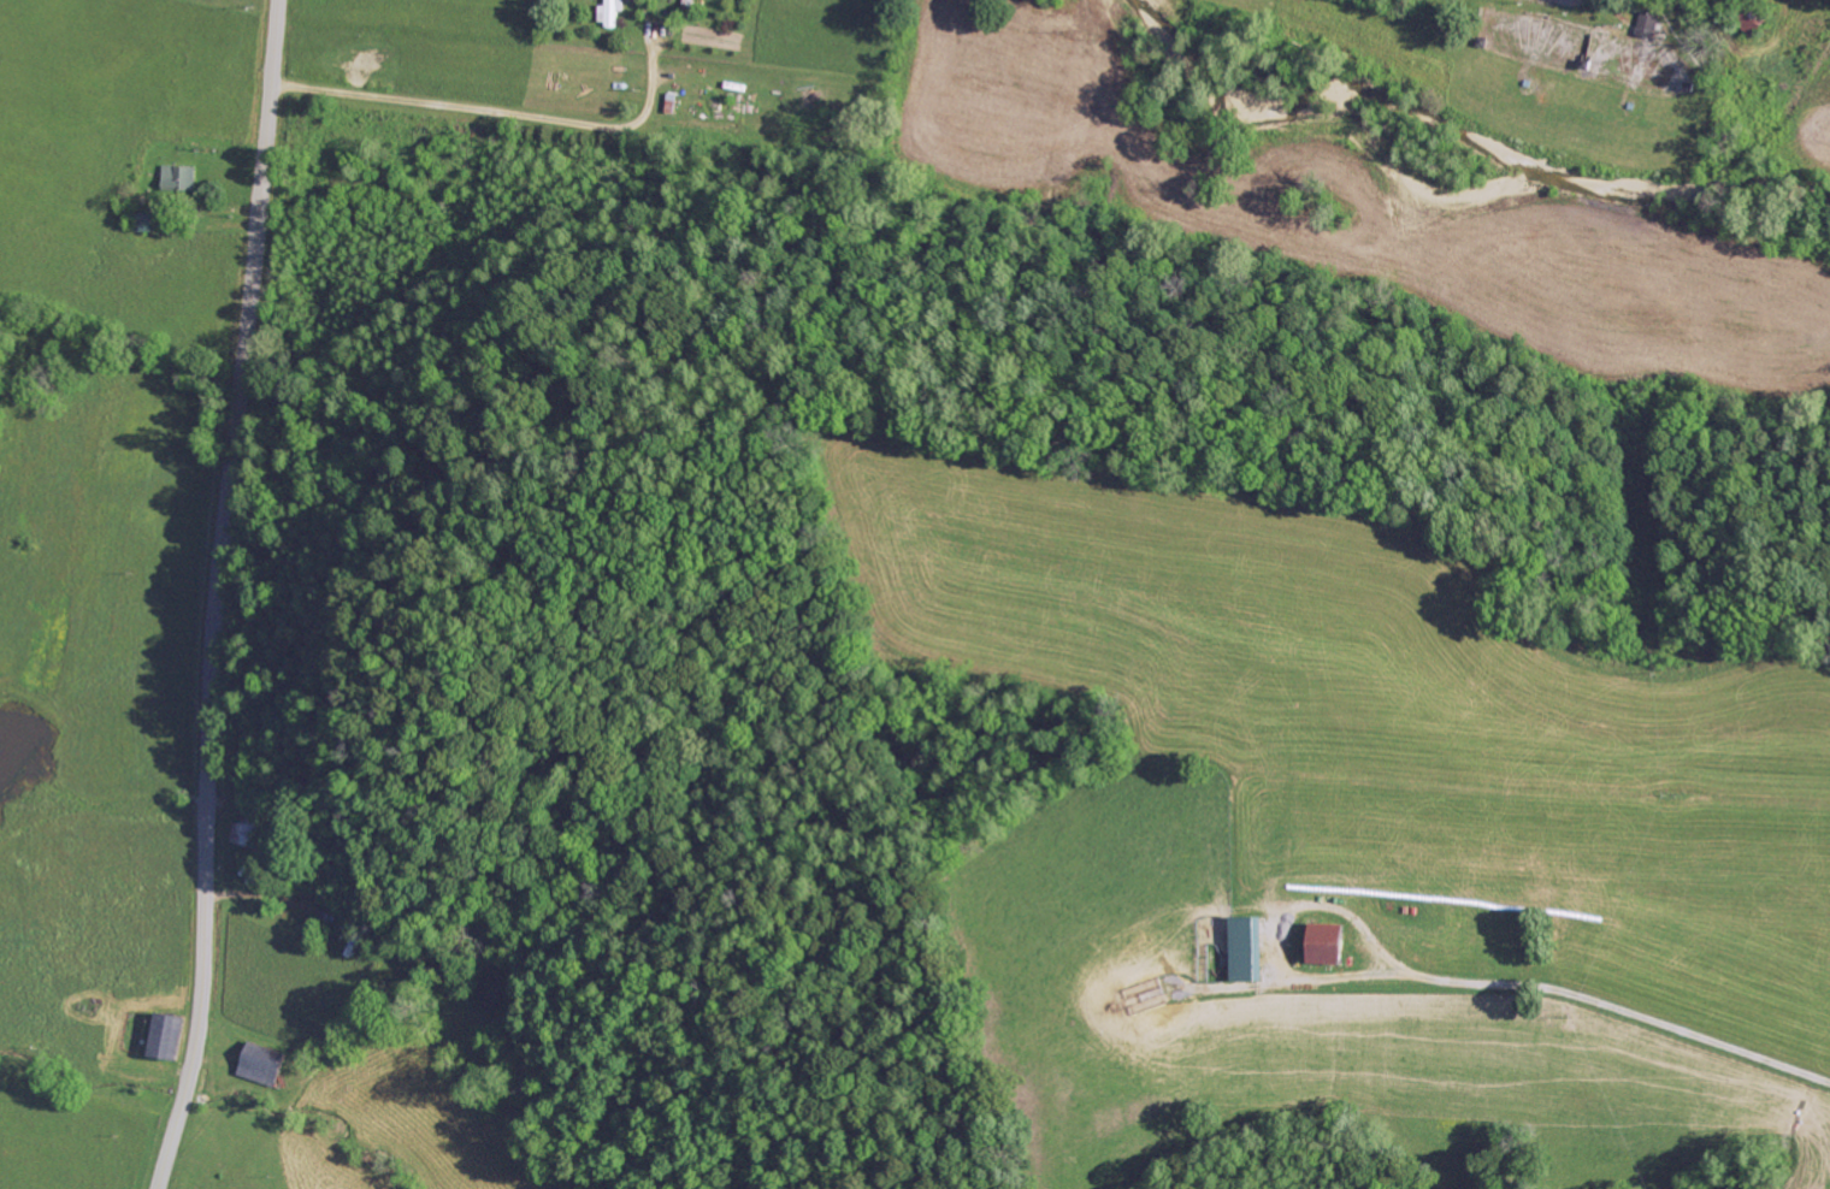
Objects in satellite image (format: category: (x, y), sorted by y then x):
building: (610, 14)
building: (1647, 25)
building: (179, 179)
building: (144, 223)
road: (214, 594)
building: (243, 833)
building: (1329, 943)
building: (1247, 948)
road: (1623, 993)
building: (170, 1035)
building: (262, 1065)

